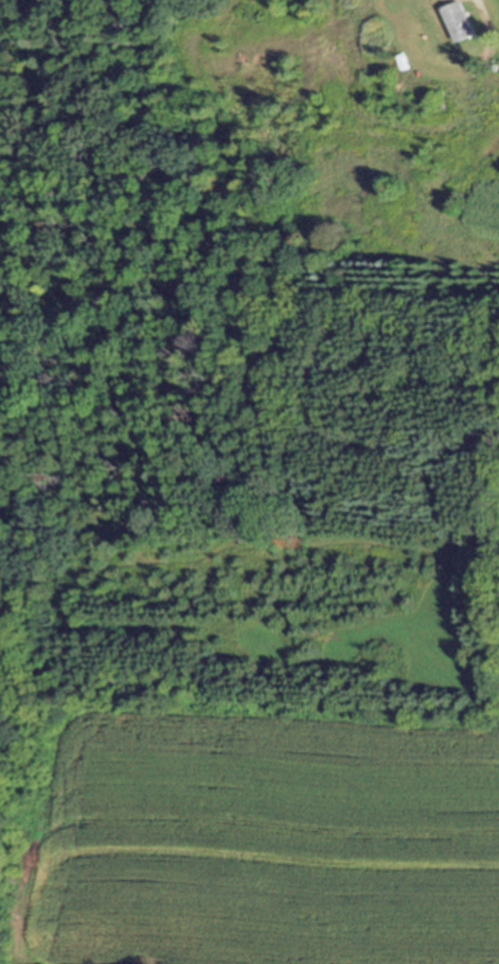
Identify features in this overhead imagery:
building: (457, 26)
building: (486, 88)

